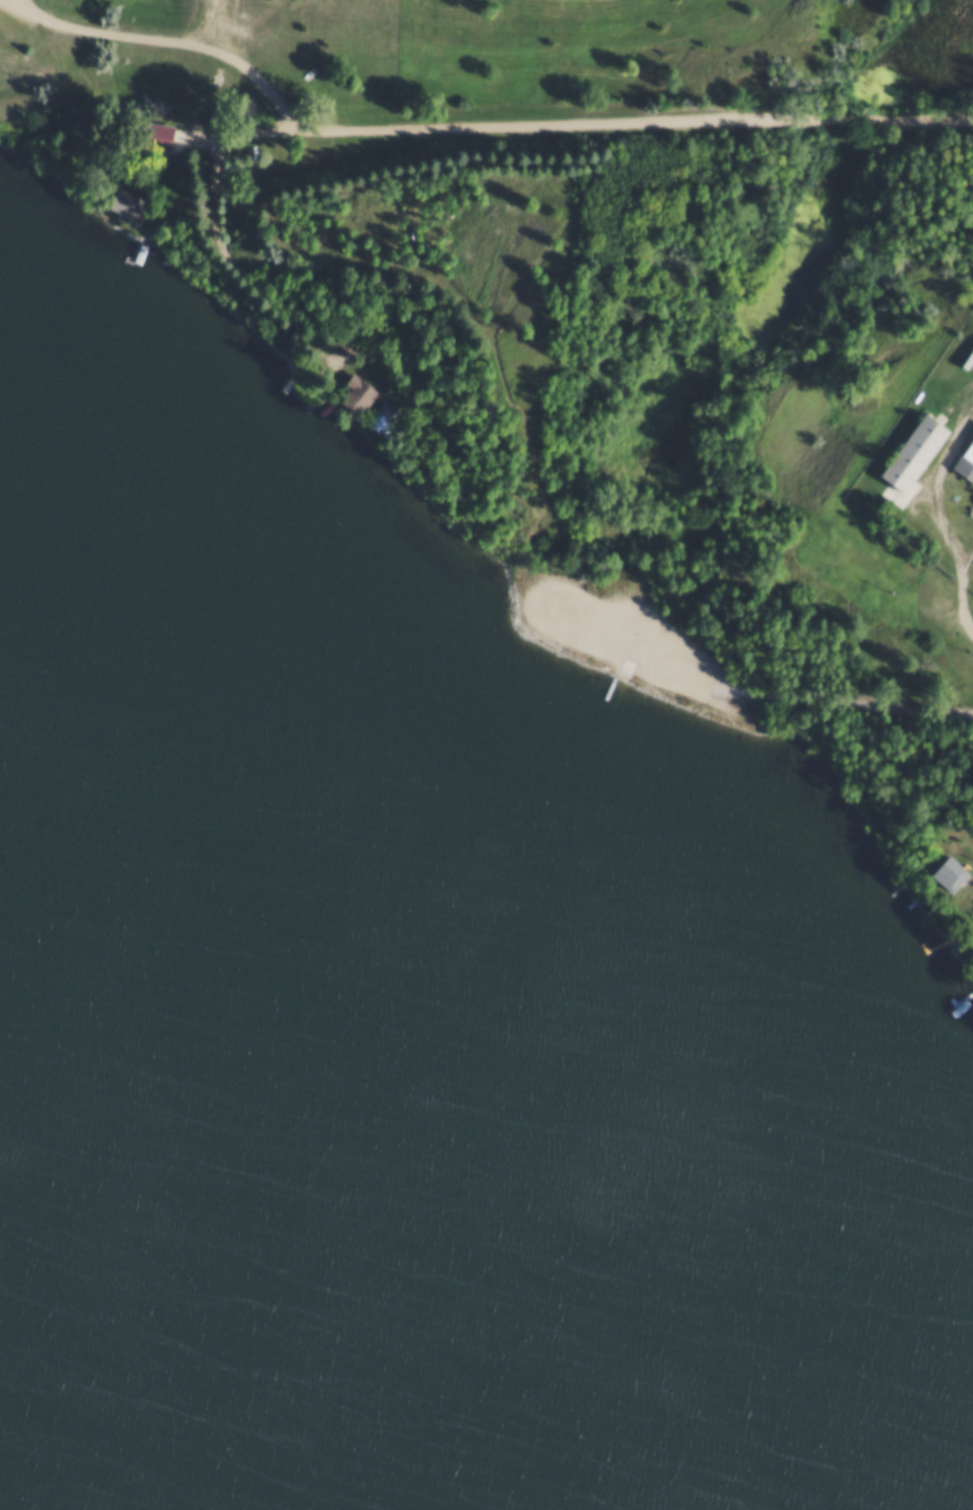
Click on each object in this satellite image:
road: (172, 39)
road: (461, 131)
building: (154, 133)
building: (123, 201)
building: (361, 391)
building: (376, 402)
building: (387, 414)
building: (400, 419)
building: (910, 450)
building: (965, 460)
road: (940, 495)
building: (971, 506)
road: (964, 599)
road: (884, 702)
building: (949, 870)

